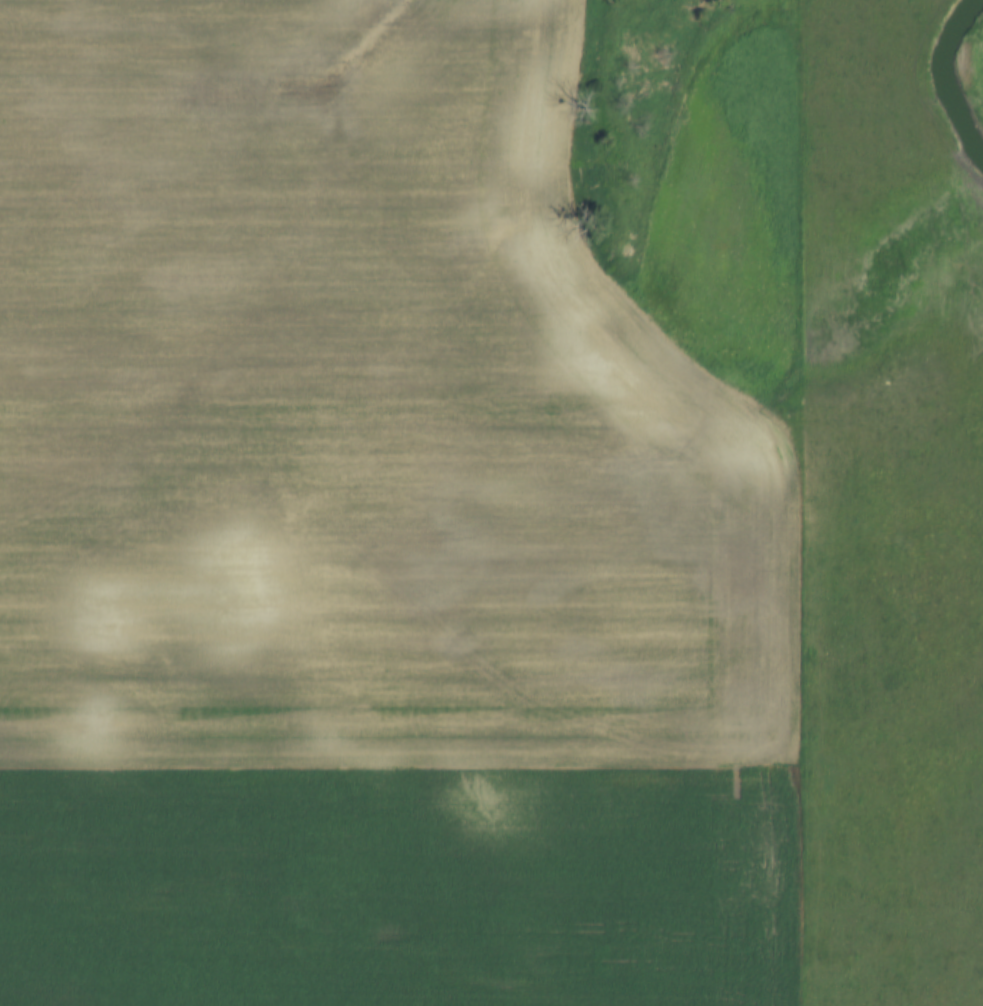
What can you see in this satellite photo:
river: (973, 55)

